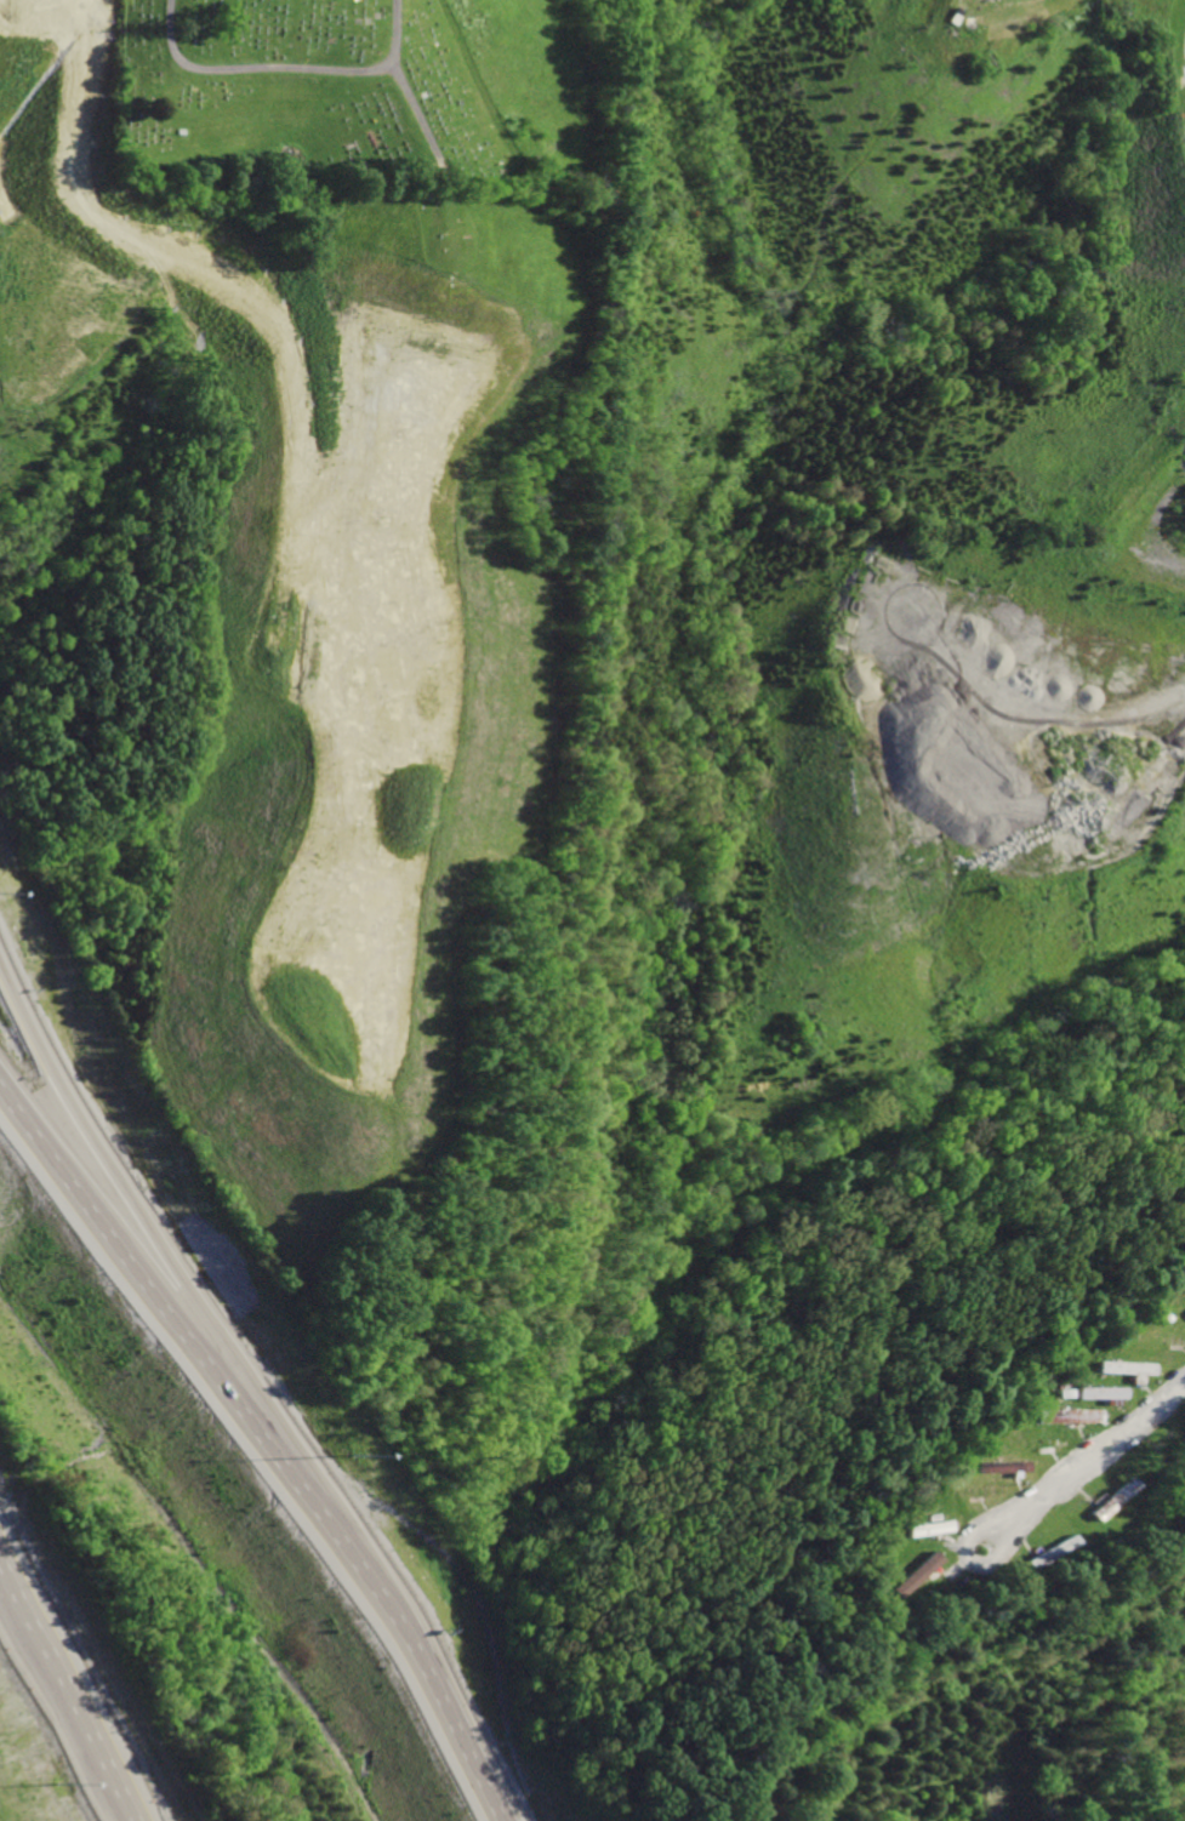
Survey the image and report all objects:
park: (313, 99)
road: (163, 1241)
building: (1183, 1313)
building: (1121, 1369)
building: (1095, 1393)
building: (1065, 1416)
road: (267, 1443)
road: (1083, 1456)
building: (1106, 1500)
building: (925, 1529)
building: (912, 1575)
road: (52, 1712)
road: (56, 1714)

